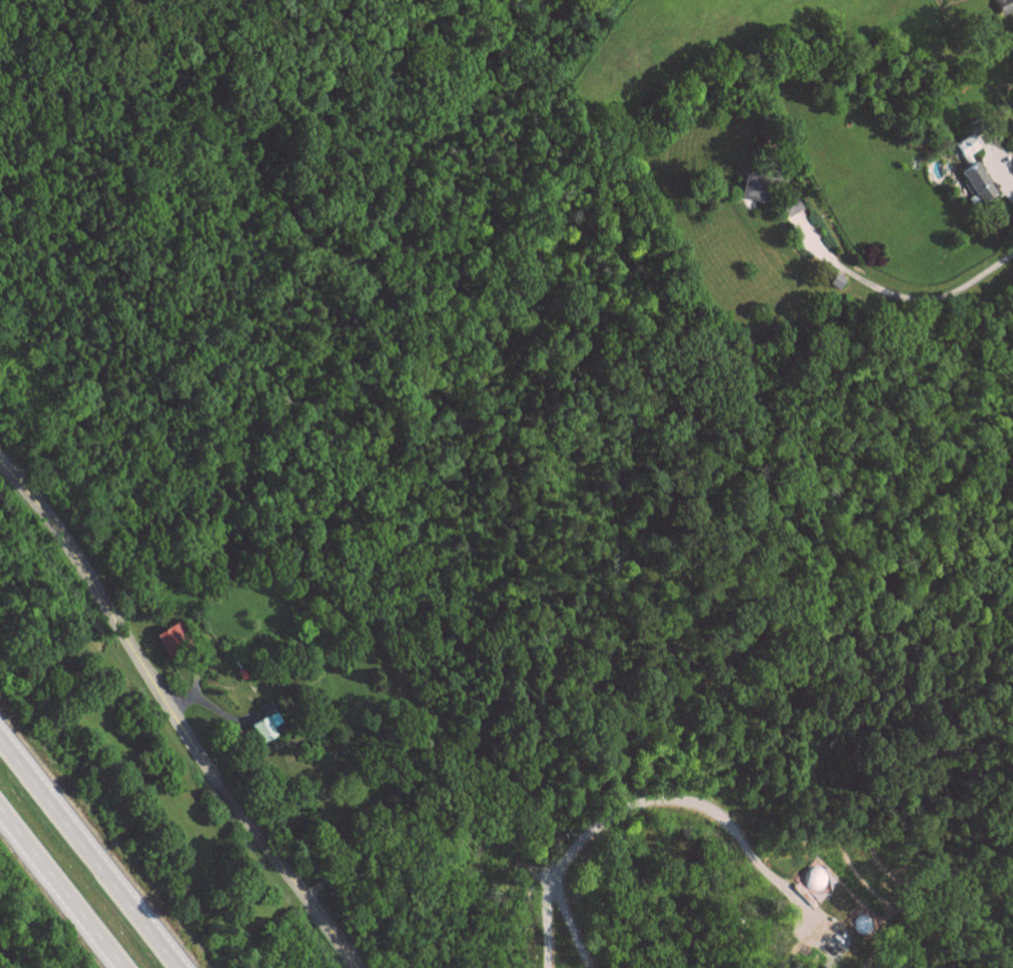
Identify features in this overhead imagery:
building: (1006, 6)
building: (970, 148)
building: (982, 182)
building: (758, 187)
building: (794, 207)
building: (840, 281)
road: (925, 301)
building: (177, 639)
road: (174, 717)
building: (270, 723)
road: (628, 800)
road: (89, 853)
road: (62, 887)

